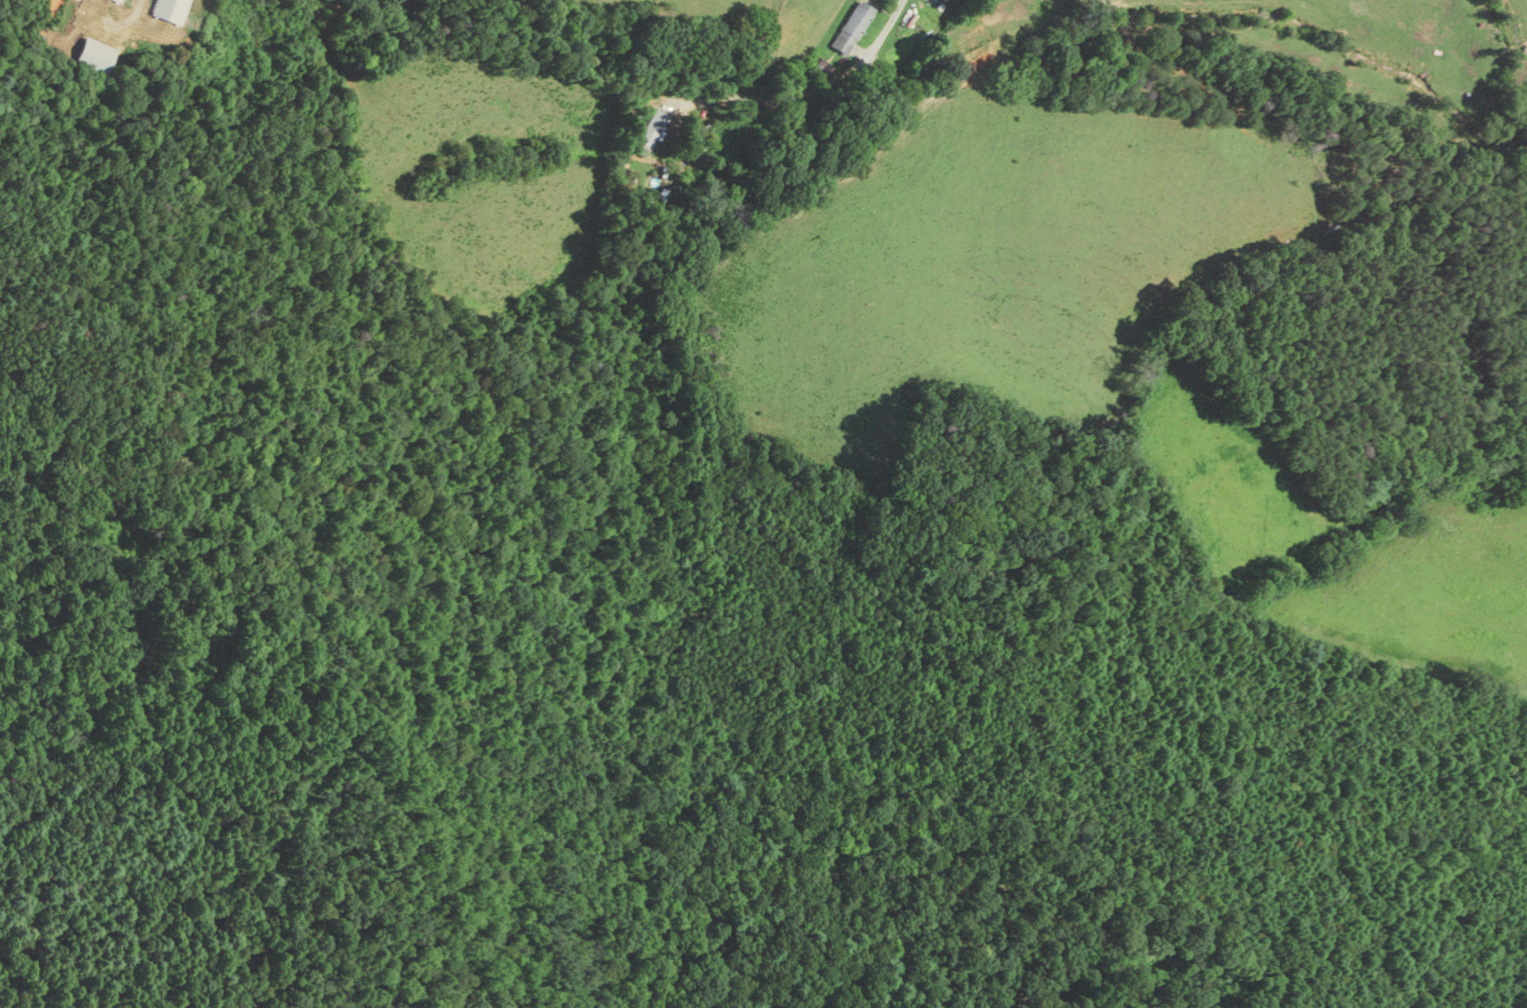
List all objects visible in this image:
building: (941, 0)
building: (116, 1)
building: (167, 11)
building: (851, 26)
road: (880, 32)
building: (90, 56)
road: (771, 100)
building: (650, 137)

